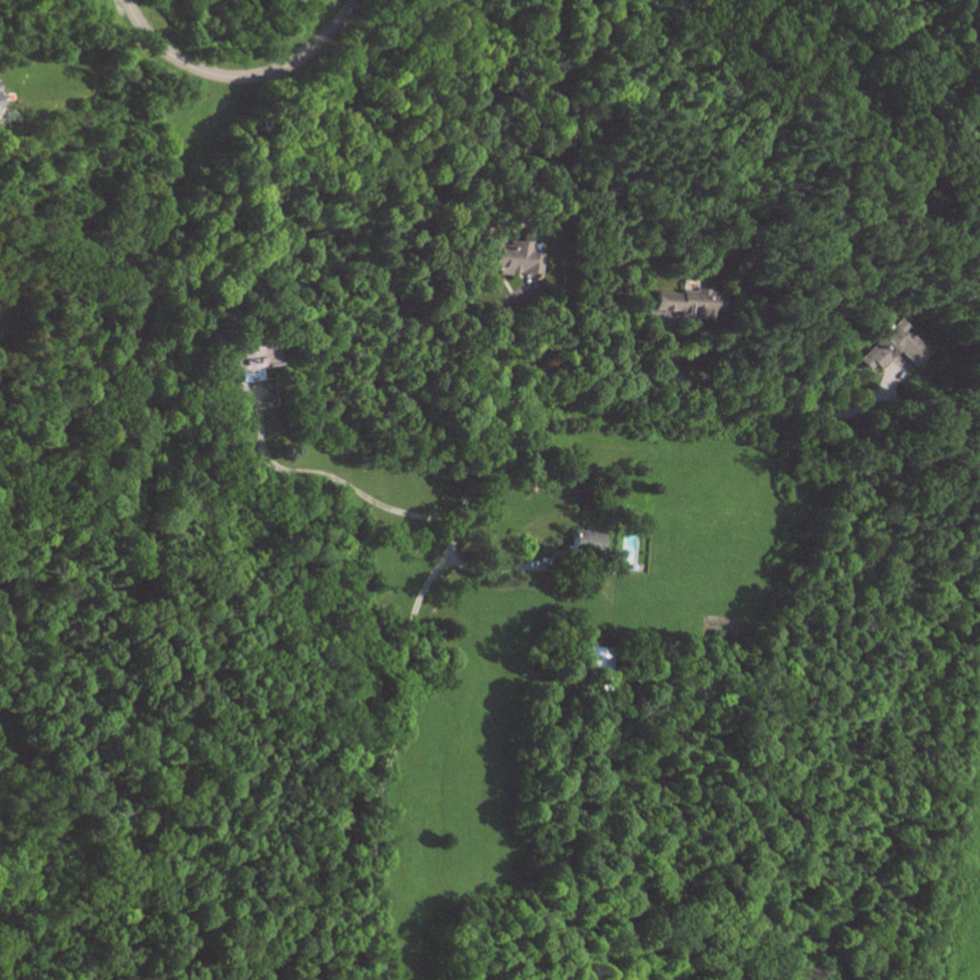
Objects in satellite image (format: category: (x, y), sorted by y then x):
road: (239, 76)
building: (1, 97)
road: (193, 231)
building: (508, 256)
building: (683, 302)
road: (556, 314)
building: (885, 346)
road: (666, 375)
road: (344, 483)
road: (460, 521)
building: (579, 541)
road: (494, 568)

